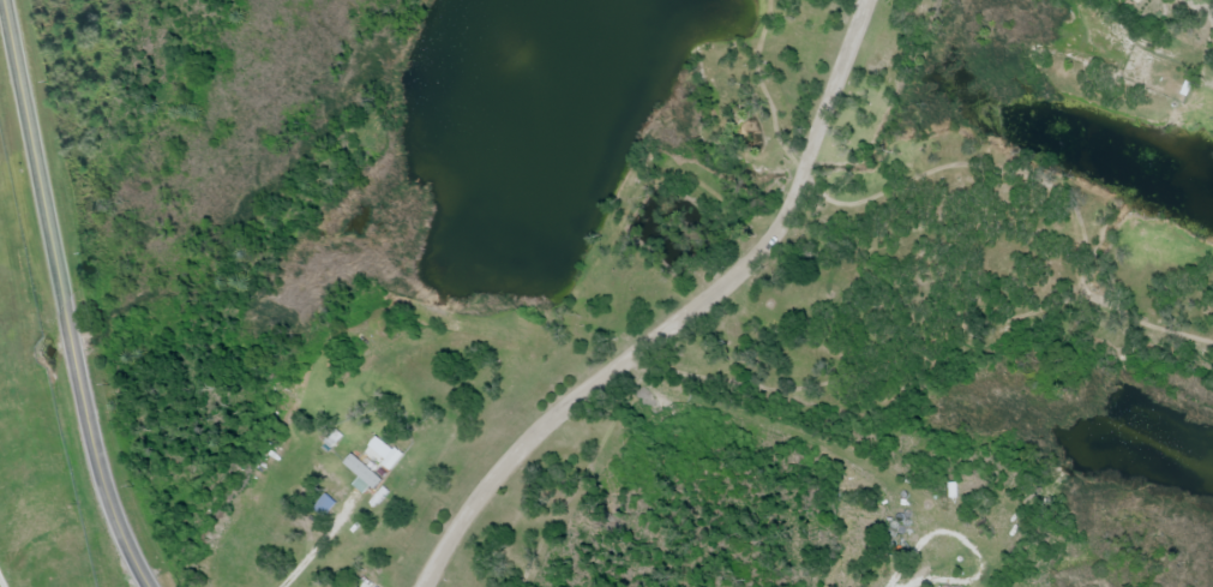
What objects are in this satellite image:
road: (1202, 7)
road: (59, 298)
road: (680, 317)
road: (825, 448)
road: (1, 583)

